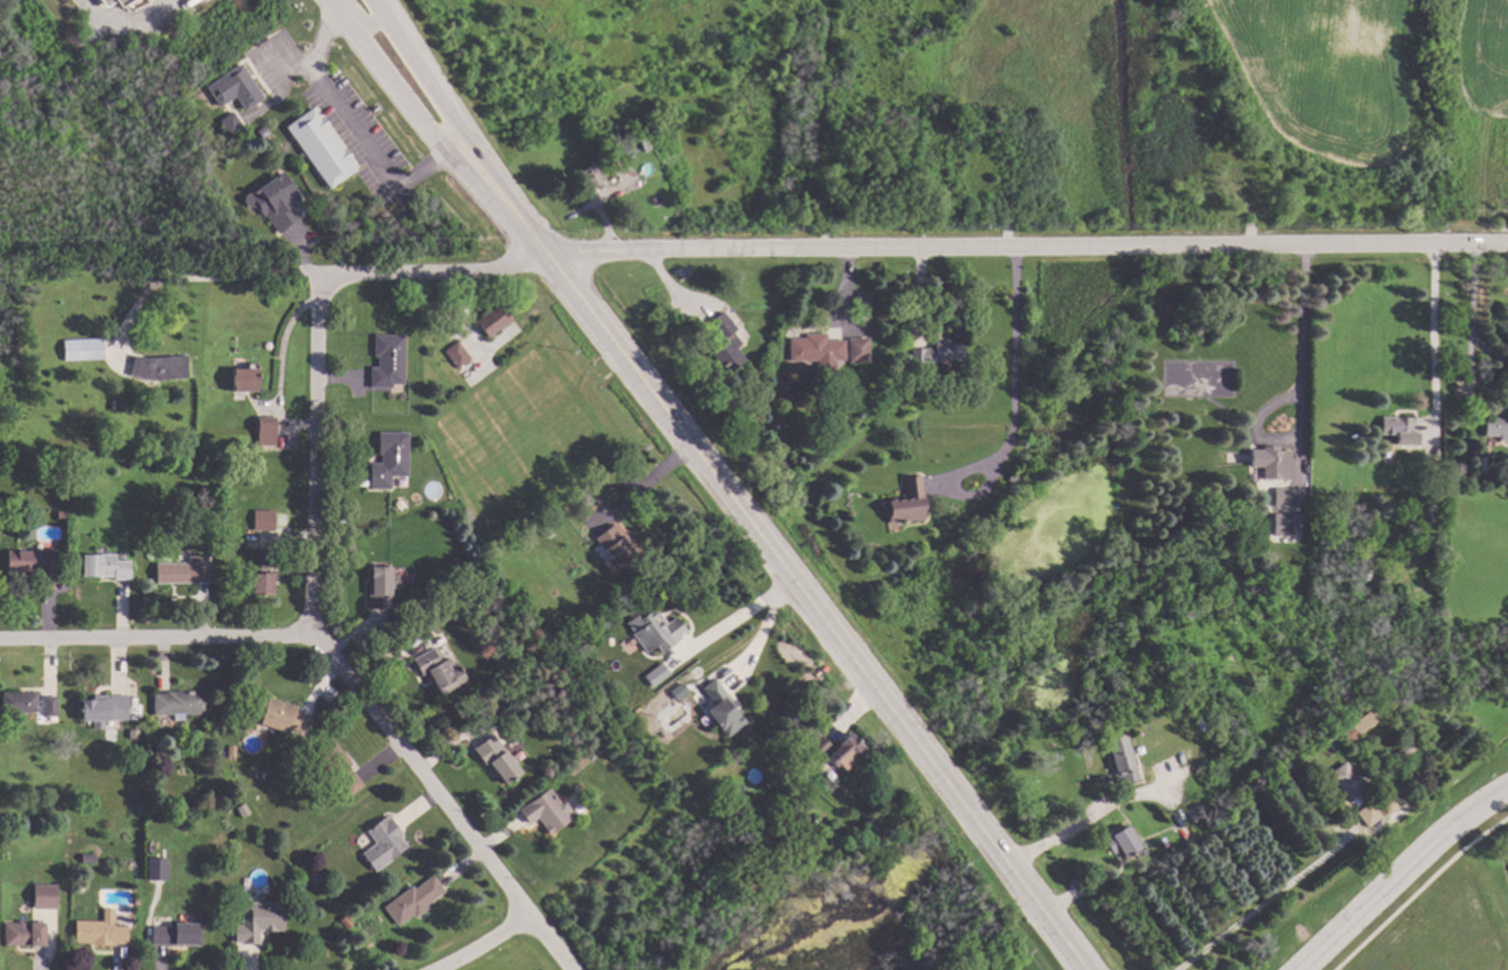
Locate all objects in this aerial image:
building: (108, 2)
building: (125, 2)
road: (382, 7)
road: (372, 24)
road: (125, 26)
crop: (1482, 57)
road: (288, 64)
crop: (1326, 73)
building: (237, 87)
building: (232, 122)
road: (350, 130)
road: (462, 130)
building: (264, 131)
building: (647, 132)
road: (430, 135)
building: (323, 146)
building: (616, 160)
building: (590, 177)
building: (280, 202)
road: (1025, 246)
building: (683, 271)
road: (433, 273)
road: (199, 278)
road: (1472, 293)
building: (734, 305)
building: (495, 321)
road: (1301, 321)
road: (1429, 338)
building: (724, 344)
building: (85, 348)
building: (814, 348)
building: (853, 349)
road: (1489, 353)
building: (935, 354)
building: (460, 355)
building: (390, 360)
building: (161, 368)
road: (1016, 371)
building: (247, 378)
building: (897, 381)
road: (1473, 381)
building: (116, 404)
building: (1496, 428)
building: (1398, 430)
building: (268, 435)
road: (315, 457)
building: (391, 459)
building: (1274, 464)
building: (1482, 464)
building: (1422, 475)
building: (1010, 479)
building: (1292, 497)
building: (906, 503)
building: (64, 514)
building: (266, 520)
building: (1289, 525)
building: (612, 538)
building: (34, 561)
building: (108, 566)
building: (185, 571)
building: (265, 573)
building: (383, 587)
building: (406, 606)
road: (818, 616)
road: (732, 620)
building: (656, 628)
road: (762, 629)
road: (349, 634)
road: (154, 639)
building: (613, 640)
building: (442, 671)
building: (654, 675)
building: (1126, 701)
building: (22, 702)
building: (182, 703)
building: (52, 706)
building: (107, 708)
building: (724, 708)
building: (286, 717)
building: (1360, 723)
building: (1198, 724)
building: (160, 746)
building: (602, 746)
building: (822, 746)
building: (233, 751)
building: (846, 752)
building: (1401, 752)
building: (500, 758)
building: (1120, 760)
building: (341, 766)
road: (419, 776)
building: (832, 777)
building: (1347, 784)
building: (738, 790)
building: (1377, 808)
building: (548, 811)
building: (32, 825)
building: (1183, 831)
road: (1070, 832)
building: (1119, 841)
building: (385, 843)
building: (90, 858)
building: (318, 878)
road: (1398, 878)
building: (47, 896)
building: (416, 900)
building: (138, 901)
road: (1263, 902)
building: (260, 920)
building: (348, 920)
building: (103, 930)
building: (27, 933)
building: (179, 933)
road: (484, 943)
road: (549, 943)

